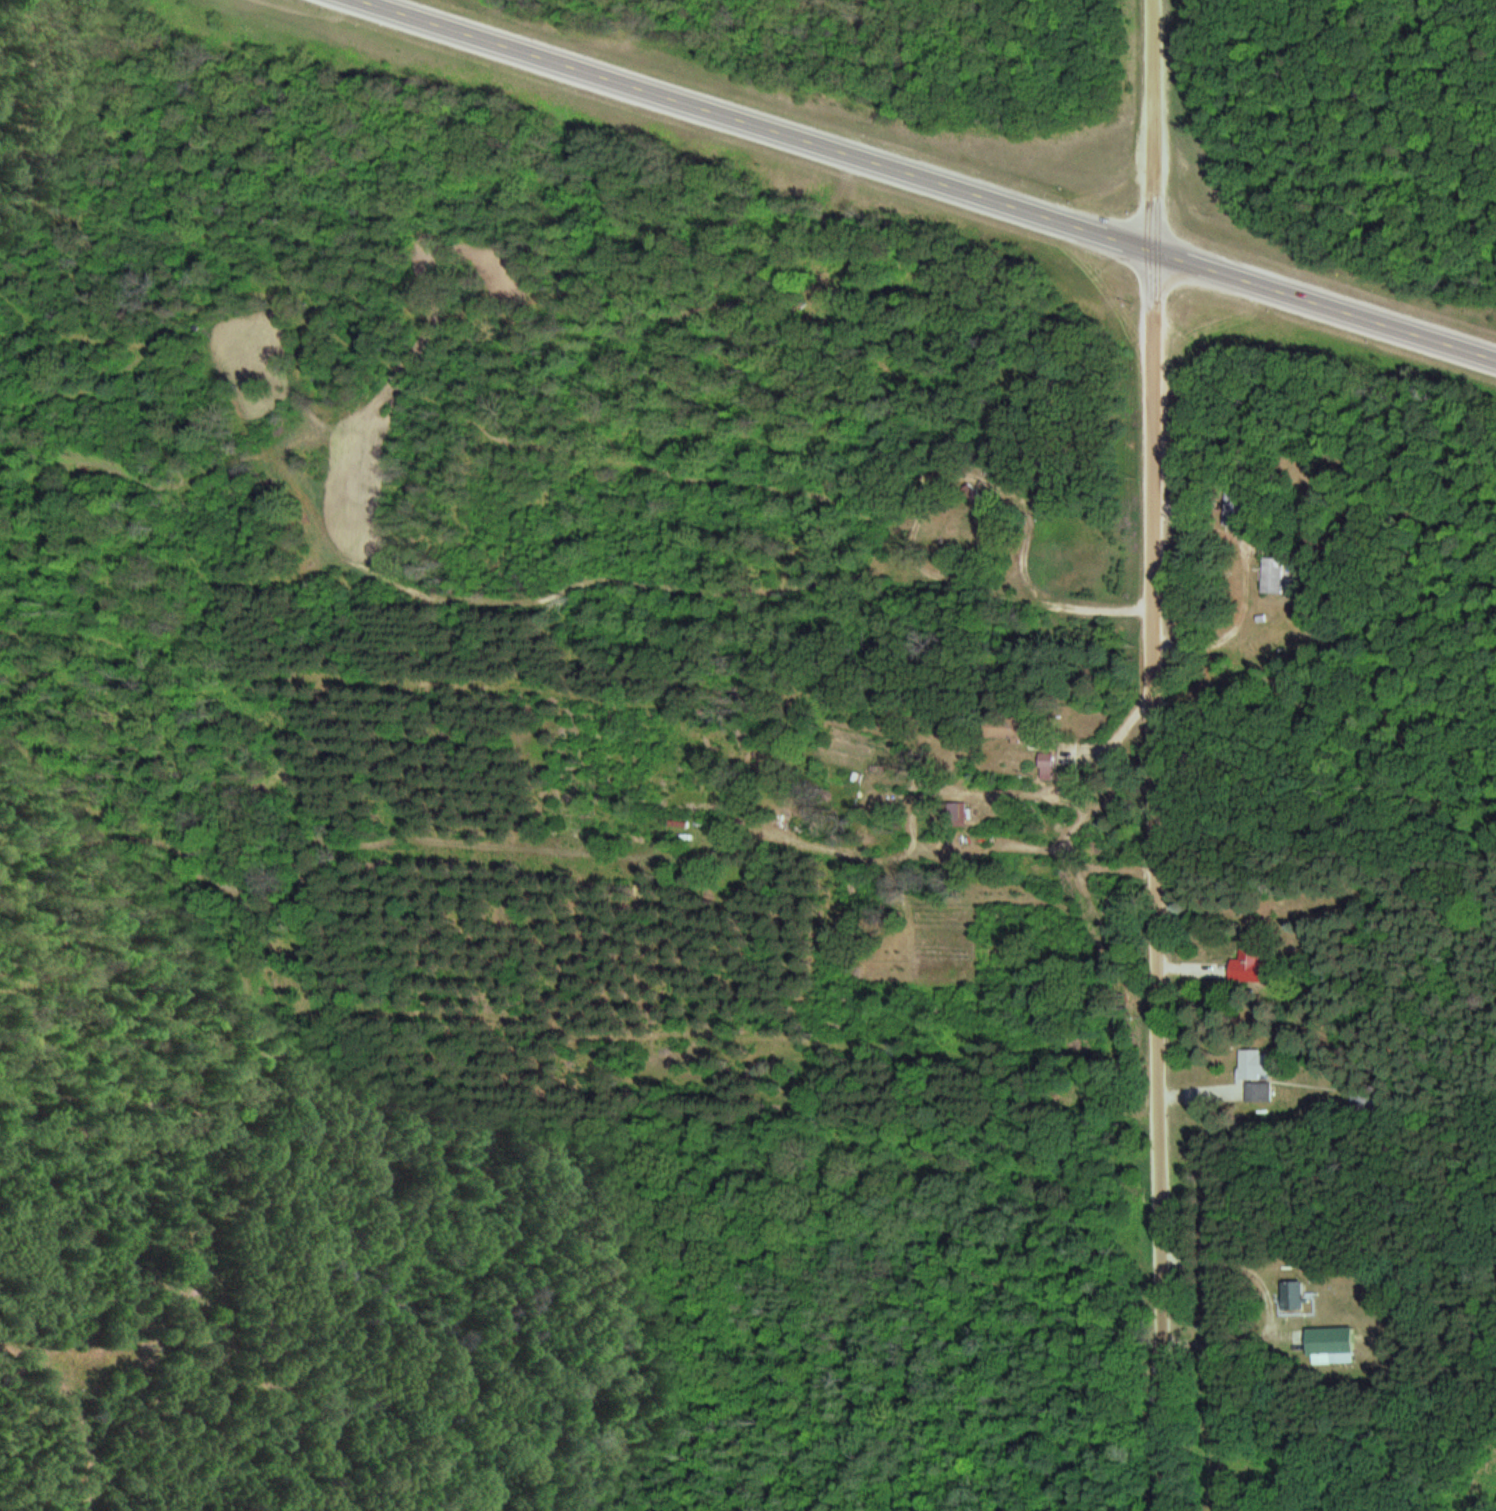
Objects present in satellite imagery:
road: (1159, 126)
road: (931, 179)
road: (820, 237)
building: (1235, 512)
building: (1274, 575)
building: (1049, 765)
road: (1163, 882)
building: (1250, 963)
building: (1257, 1073)
building: (1293, 1295)
building: (1331, 1344)

